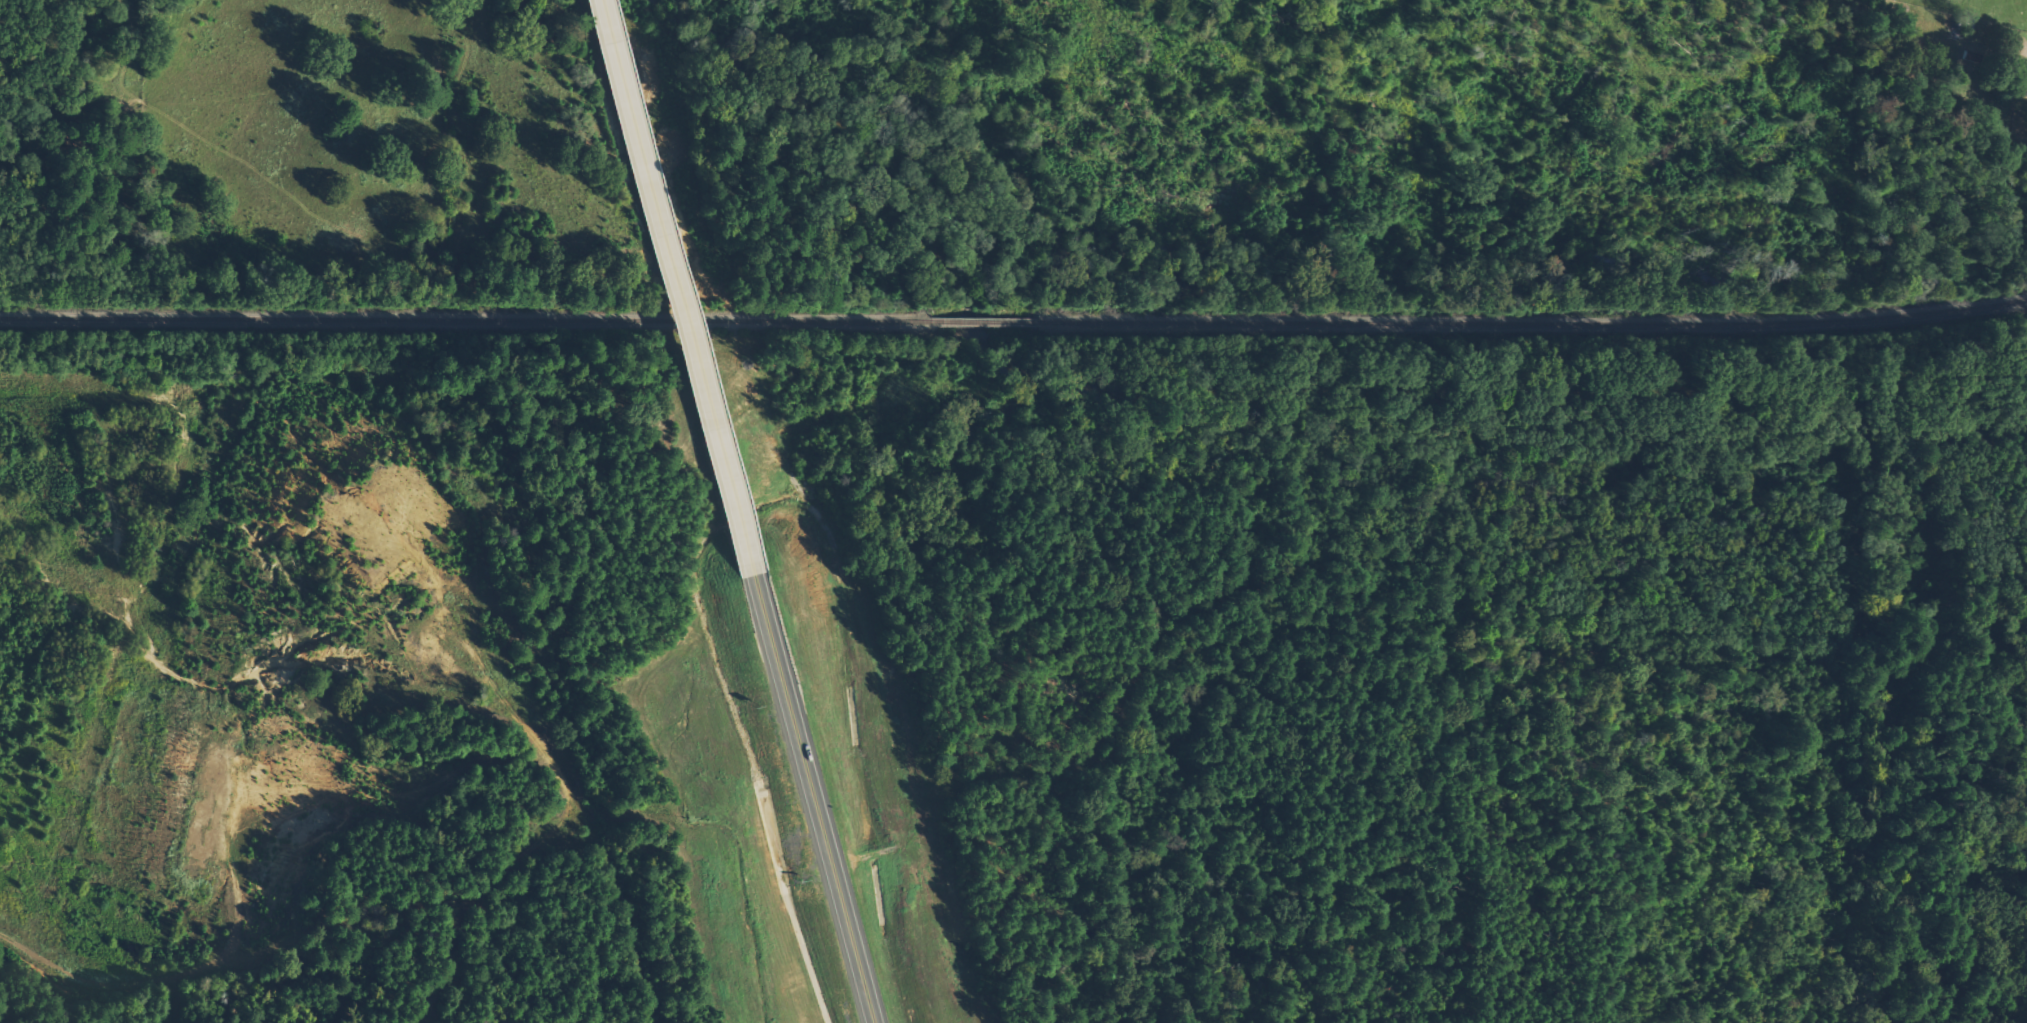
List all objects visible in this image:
building: (1966, 24)
road: (679, 289)
railway: (1907, 314)
railway: (463, 319)
railway: (983, 321)
railway: (1413, 323)
road: (816, 800)

